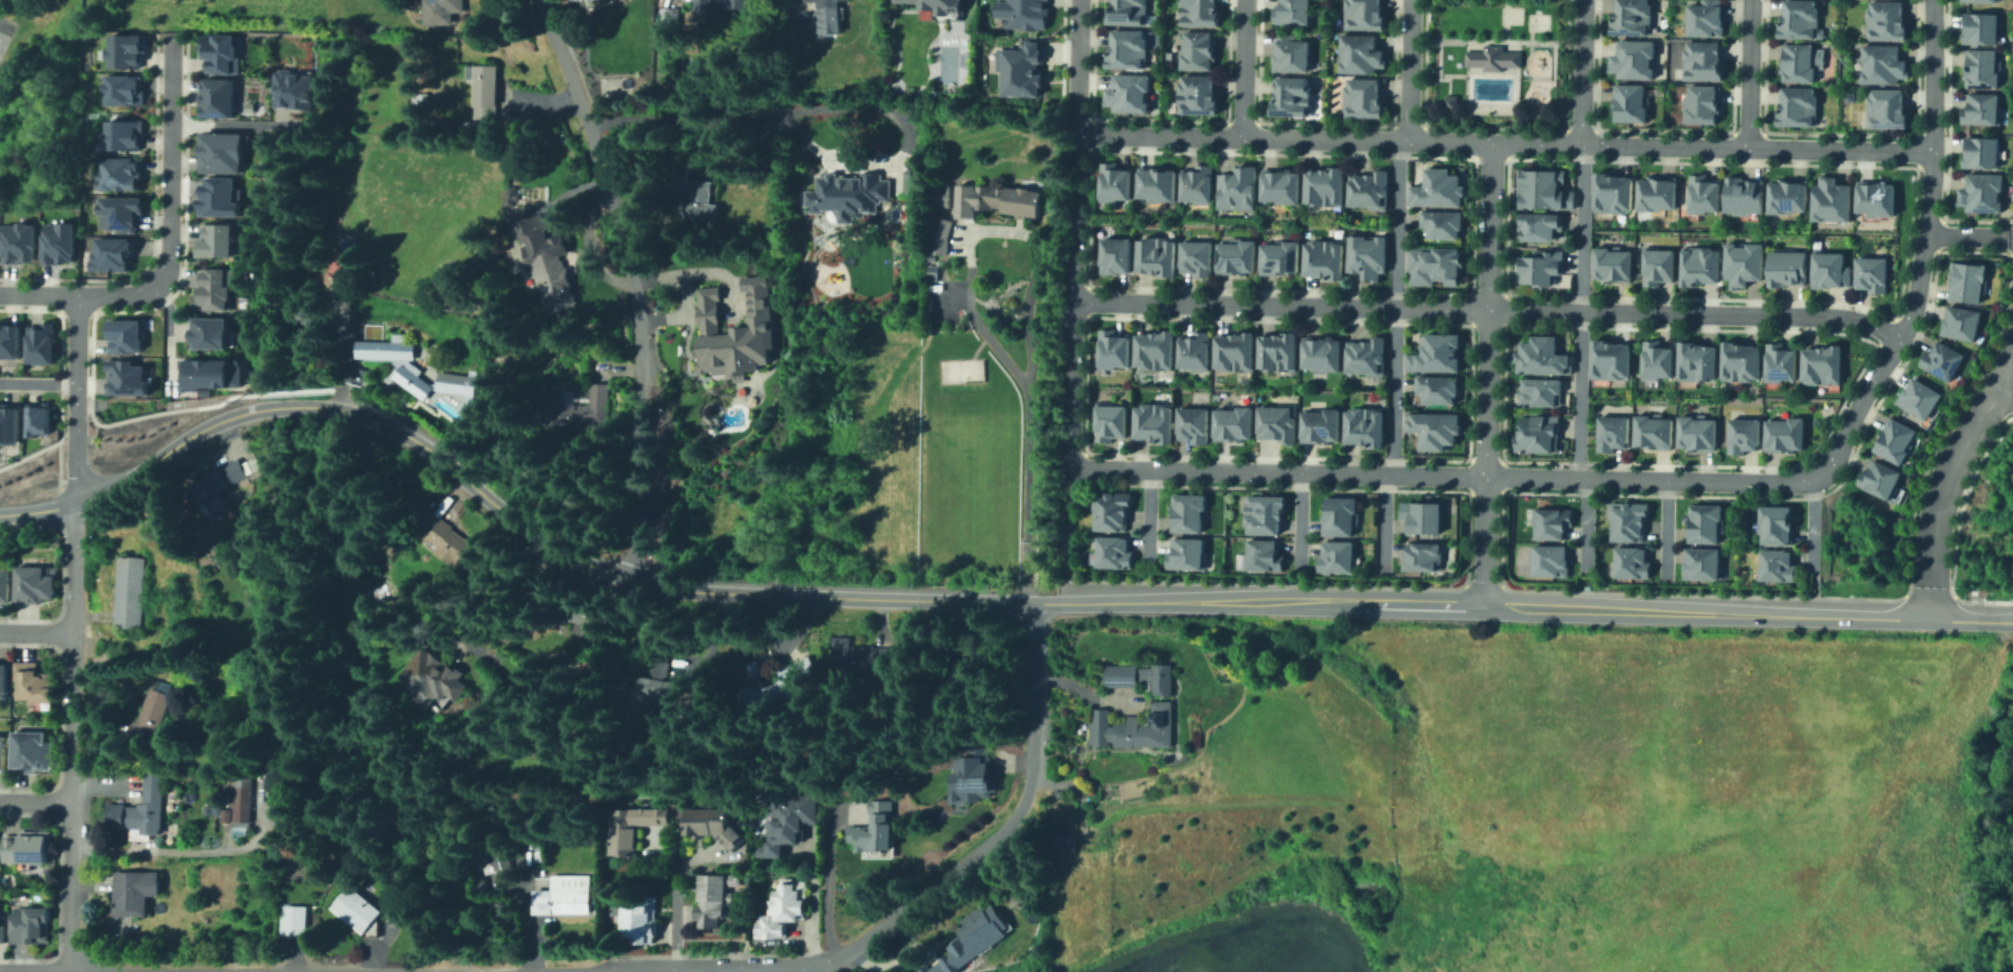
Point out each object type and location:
building: (720, 2)
building: (1978, 2)
building: (942, 6)
building: (1131, 11)
building: (1019, 12)
building: (443, 13)
building: (1291, 13)
building: (1360, 13)
park: (1510, 13)
building: (1197, 14)
building: (667, 15)
building: (826, 16)
building: (1630, 17)
building: (1702, 19)
building: (1799, 19)
road: (1503, 20)
park: (1537, 20)
building: (1884, 20)
road: (2, 26)
building: (642, 26)
road: (1529, 32)
building: (1982, 33)
road: (1497, 38)
building: (1131, 49)
building: (126, 51)
building: (1288, 51)
building: (218, 53)
building: (1195, 53)
building: (1357, 53)
road: (1077, 54)
building: (1494, 59)
building: (1631, 61)
building: (1700, 61)
building: (1798, 63)
building: (1883, 66)
building: (1021, 67)
road: (1244, 69)
road: (1410, 70)
road: (1437, 70)
building: (1979, 70)
road: (1583, 73)
road: (1453, 74)
road: (1751, 74)
road: (1468, 87)
building: (290, 88)
building: (123, 90)
building: (487, 93)
building: (1132, 93)
building: (1194, 97)
building: (1359, 97)
building: (216, 99)
building: (1290, 100)
building: (1449, 100)
road: (843, 104)
building: (1627, 104)
building: (1702, 107)
building: (1797, 107)
building: (1889, 111)
building: (1977, 111)
road: (227, 125)
building: (478, 130)
building: (123, 135)
road: (1505, 143)
building: (1979, 153)
building: (221, 154)
building: (116, 169)
building: (1111, 177)
building: (912, 178)
building: (1154, 179)
building: (1196, 180)
building: (1278, 181)
building: (1323, 181)
building: (1543, 183)
building: (1236, 184)
building: (1436, 184)
building: (1369, 186)
building: (1613, 187)
building: (692, 192)
building: (938, 192)
building: (1657, 192)
building: (848, 193)
building: (1699, 193)
building: (1979, 193)
building: (510, 194)
building: (1742, 194)
building: (996, 195)
building: (1878, 195)
building: (217, 196)
building: (1787, 196)
building: (1829, 200)
building: (118, 213)
building: (1443, 224)
building: (1536, 224)
building: (939, 233)
road: (1964, 234)
road: (2008, 235)
building: (216, 242)
building: (18, 243)
building: (58, 243)
road: (1922, 248)
building: (542, 250)
building: (1154, 251)
building: (1367, 252)
building: (1234, 253)
building: (1321, 253)
building: (1113, 254)
building: (1195, 254)
building: (1276, 254)
building: (112, 255)
road: (164, 262)
building: (1432, 262)
building: (1612, 262)
building: (1741, 262)
building: (335, 263)
building: (1657, 264)
building: (1699, 264)
building: (1786, 266)
building: (1538, 267)
building: (1827, 269)
building: (932, 272)
building: (1869, 272)
building: (1964, 280)
road: (632, 281)
road: (1073, 286)
building: (213, 292)
road: (38, 293)
road: (2008, 298)
road: (1487, 307)
road: (1392, 308)
building: (563, 312)
road: (1580, 313)
road: (971, 318)
building: (1959, 322)
road: (168, 331)
building: (731, 333)
building: (211, 334)
building: (124, 335)
building: (9, 342)
building: (41, 343)
building: (384, 345)
building: (1152, 345)
building: (1233, 346)
building: (1194, 347)
building: (1277, 347)
building: (1109, 348)
building: (1320, 351)
building: (1434, 351)
building: (1542, 352)
building: (1366, 353)
building: (1609, 356)
building: (1741, 359)
building: (1693, 360)
building: (1939, 360)
building: (1654, 361)
building: (1781, 361)
building: (1822, 362)
park: (960, 369)
building: (209, 372)
road: (1486, 374)
building: (127, 379)
building: (410, 379)
road: (38, 382)
building: (1436, 386)
building: (1538, 389)
road: (295, 391)
building: (449, 392)
building: (1213, 395)
road: (335, 397)
building: (1917, 398)
road: (89, 404)
building: (576, 407)
road: (166, 410)
building: (1150, 418)
building: (1106, 420)
building: (1276, 420)
building: (37, 421)
building: (1192, 421)
building: (1232, 421)
building: (1320, 423)
building: (1363, 423)
building: (9, 424)
building: (1609, 430)
building: (1438, 431)
building: (1536, 431)
building: (1650, 431)
building: (1695, 433)
building: (1784, 433)
building: (1740, 434)
road: (87, 437)
building: (1894, 440)
road: (55, 441)
road: (57, 462)
road: (1447, 477)
building: (212, 480)
building: (1877, 480)
road: (1944, 483)
road: (60, 494)
building: (1109, 508)
building: (1186, 508)
road: (37, 509)
building: (1262, 512)
building: (1339, 512)
road: (1147, 515)
building: (1627, 517)
building: (1425, 518)
road: (1298, 521)
building: (1549, 522)
road: (1382, 523)
building: (1701, 523)
building: (1777, 523)
road: (1810, 525)
road: (1585, 527)
road: (1665, 529)
road: (1065, 531)
road: (542, 537)
building: (451, 542)
building: (1111, 549)
building: (1185, 551)
building: (1262, 552)
building: (1336, 554)
building: (1425, 558)
building: (1544, 559)
building: (1632, 559)
building: (1697, 562)
building: (1776, 563)
building: (35, 581)
building: (5, 582)
building: (128, 589)
road: (1539, 606)
building: (572, 609)
road: (37, 631)
building: (857, 653)
building: (758, 663)
building: (430, 675)
building: (1139, 676)
building: (4, 678)
building: (787, 678)
building: (33, 679)
building: (655, 683)
road: (74, 695)
building: (149, 714)
building: (1133, 726)
building: (31, 749)
building: (3, 751)
building: (970, 779)
road: (36, 800)
building: (237, 800)
building: (138, 807)
building: (205, 809)
building: (214, 809)
building: (703, 819)
building: (785, 820)
building: (629, 825)
building: (875, 827)
road: (997, 836)
building: (1063, 840)
building: (26, 846)
building: (875, 853)
building: (486, 856)
road: (673, 876)
road: (825, 878)
building: (132, 890)
building: (564, 895)
building: (711, 899)
building: (355, 908)
building: (781, 908)
building: (642, 918)
building: (291, 919)
building: (29, 922)
building: (2, 932)
building: (971, 938)
road: (697, 970)

